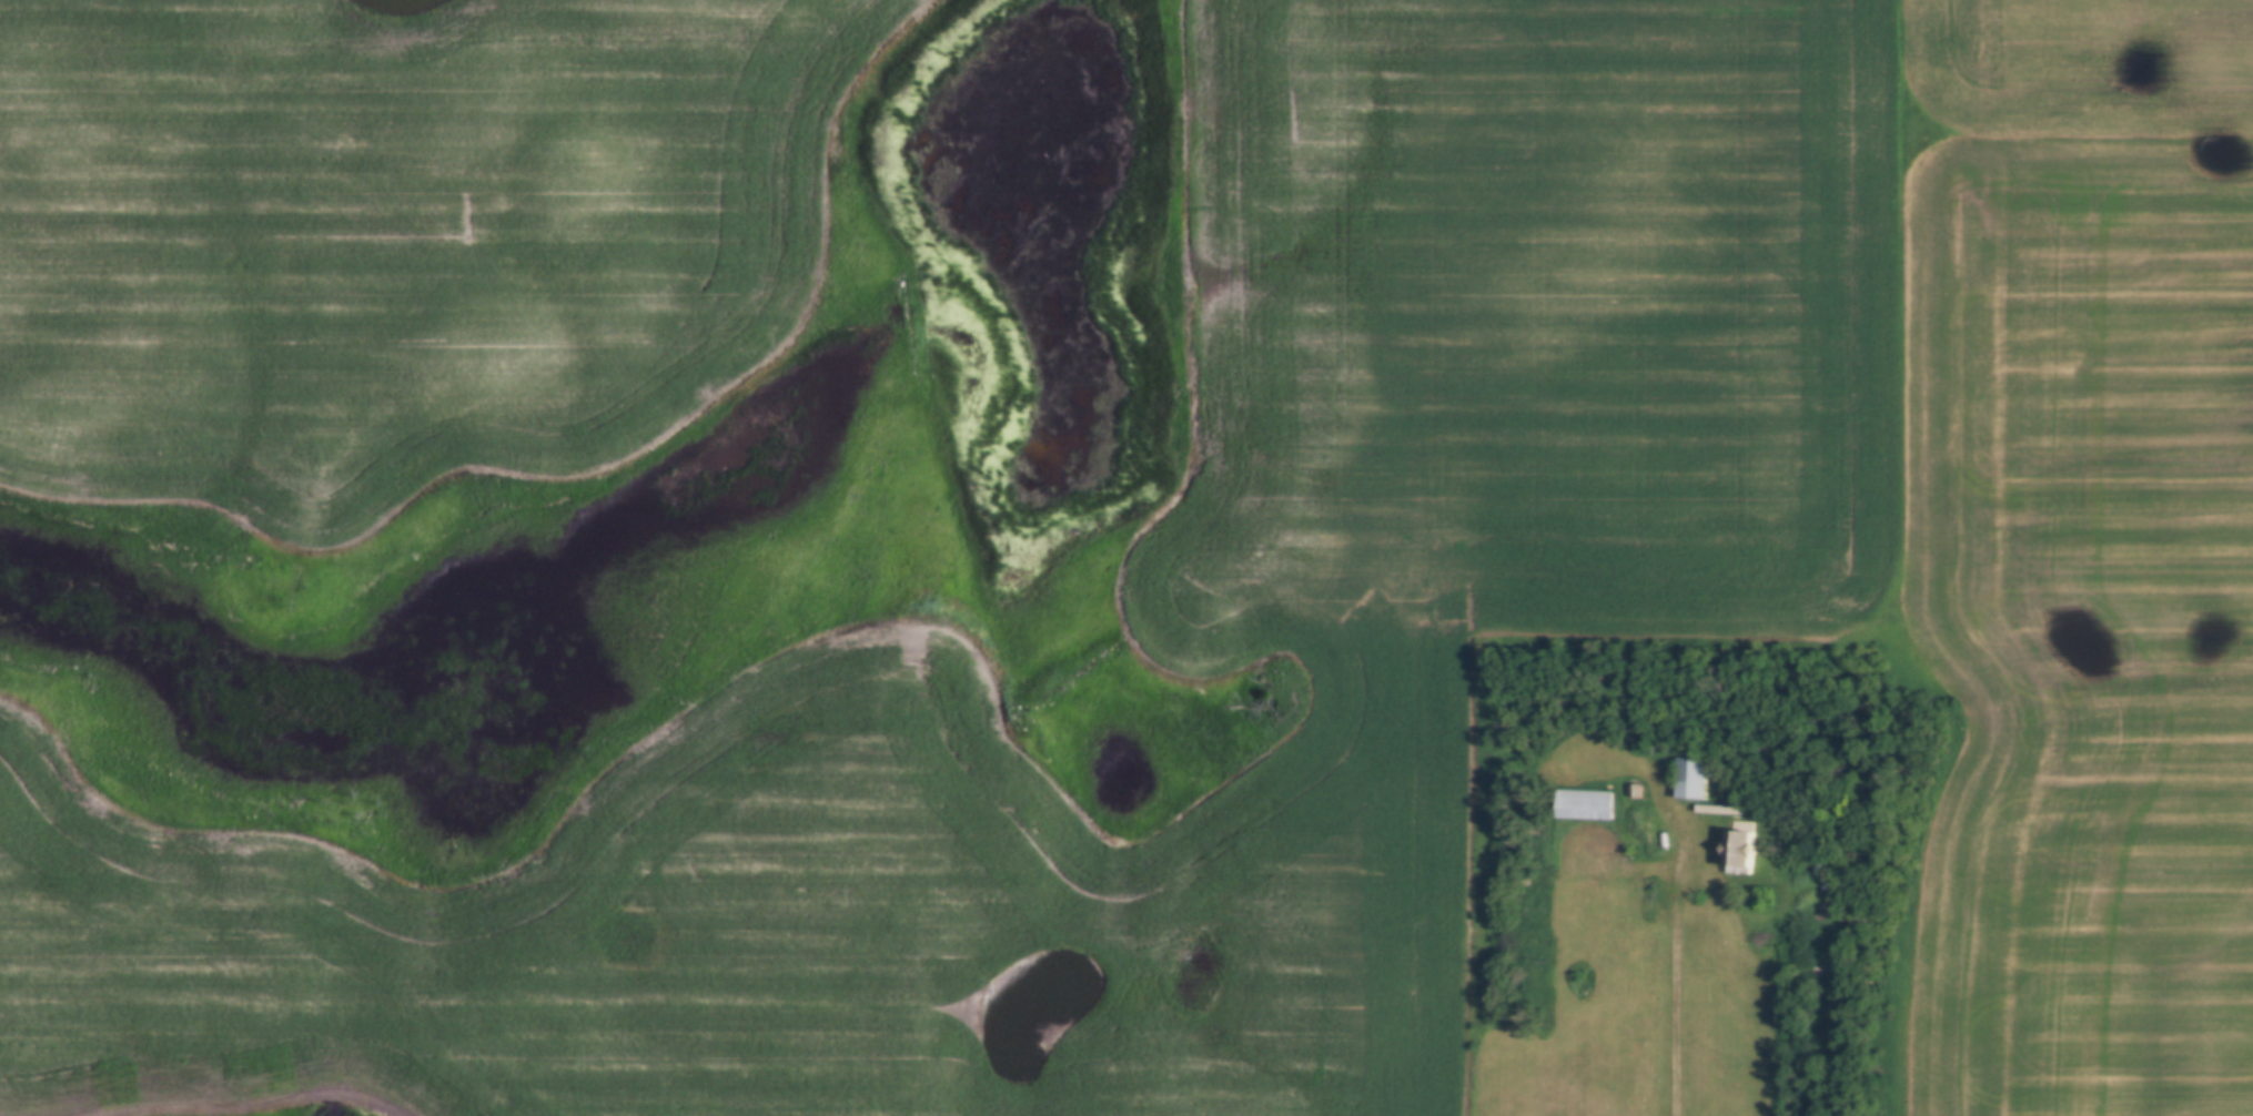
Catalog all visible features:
building: (1697, 779)
building: (1585, 805)
road: (1678, 963)

